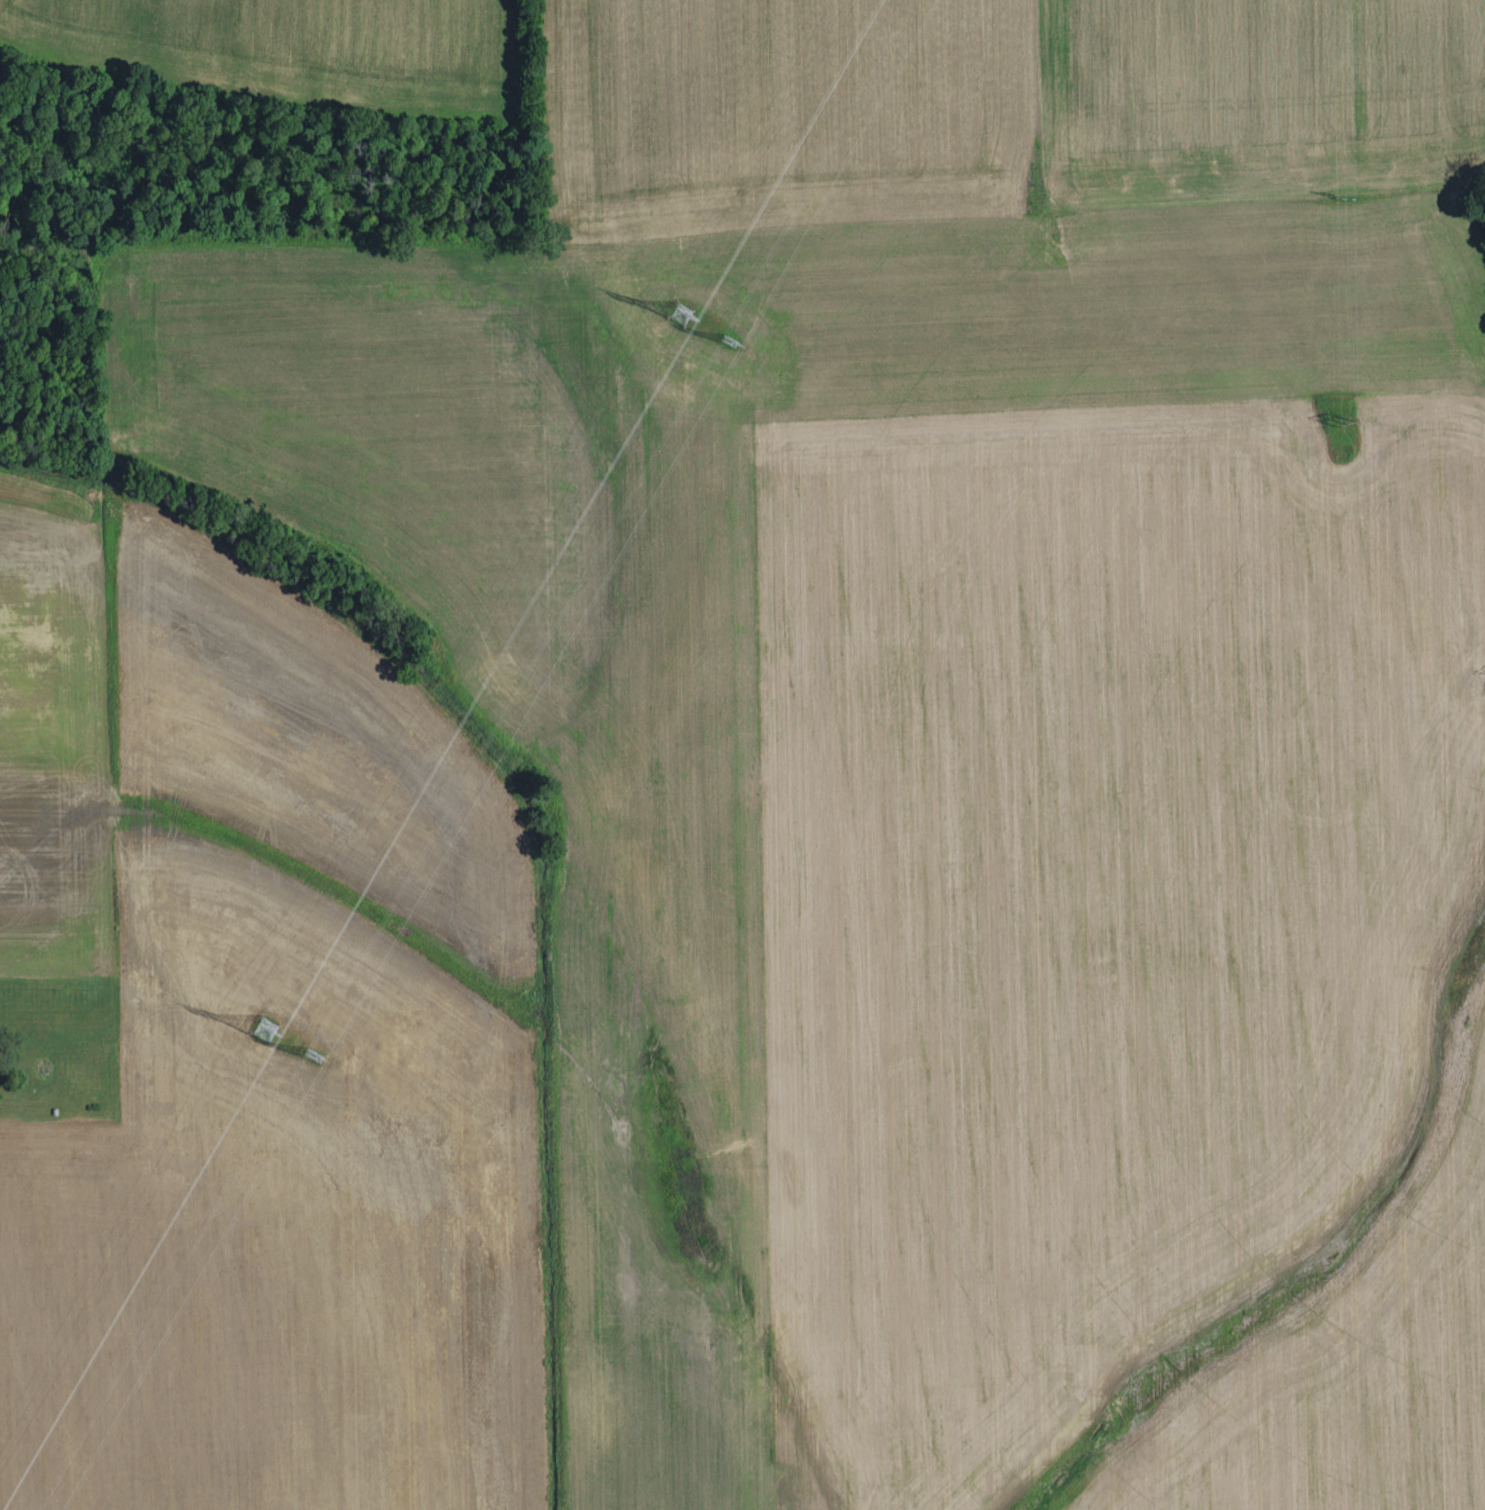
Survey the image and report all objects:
power tower: (682, 315)
power tower: (264, 1029)

